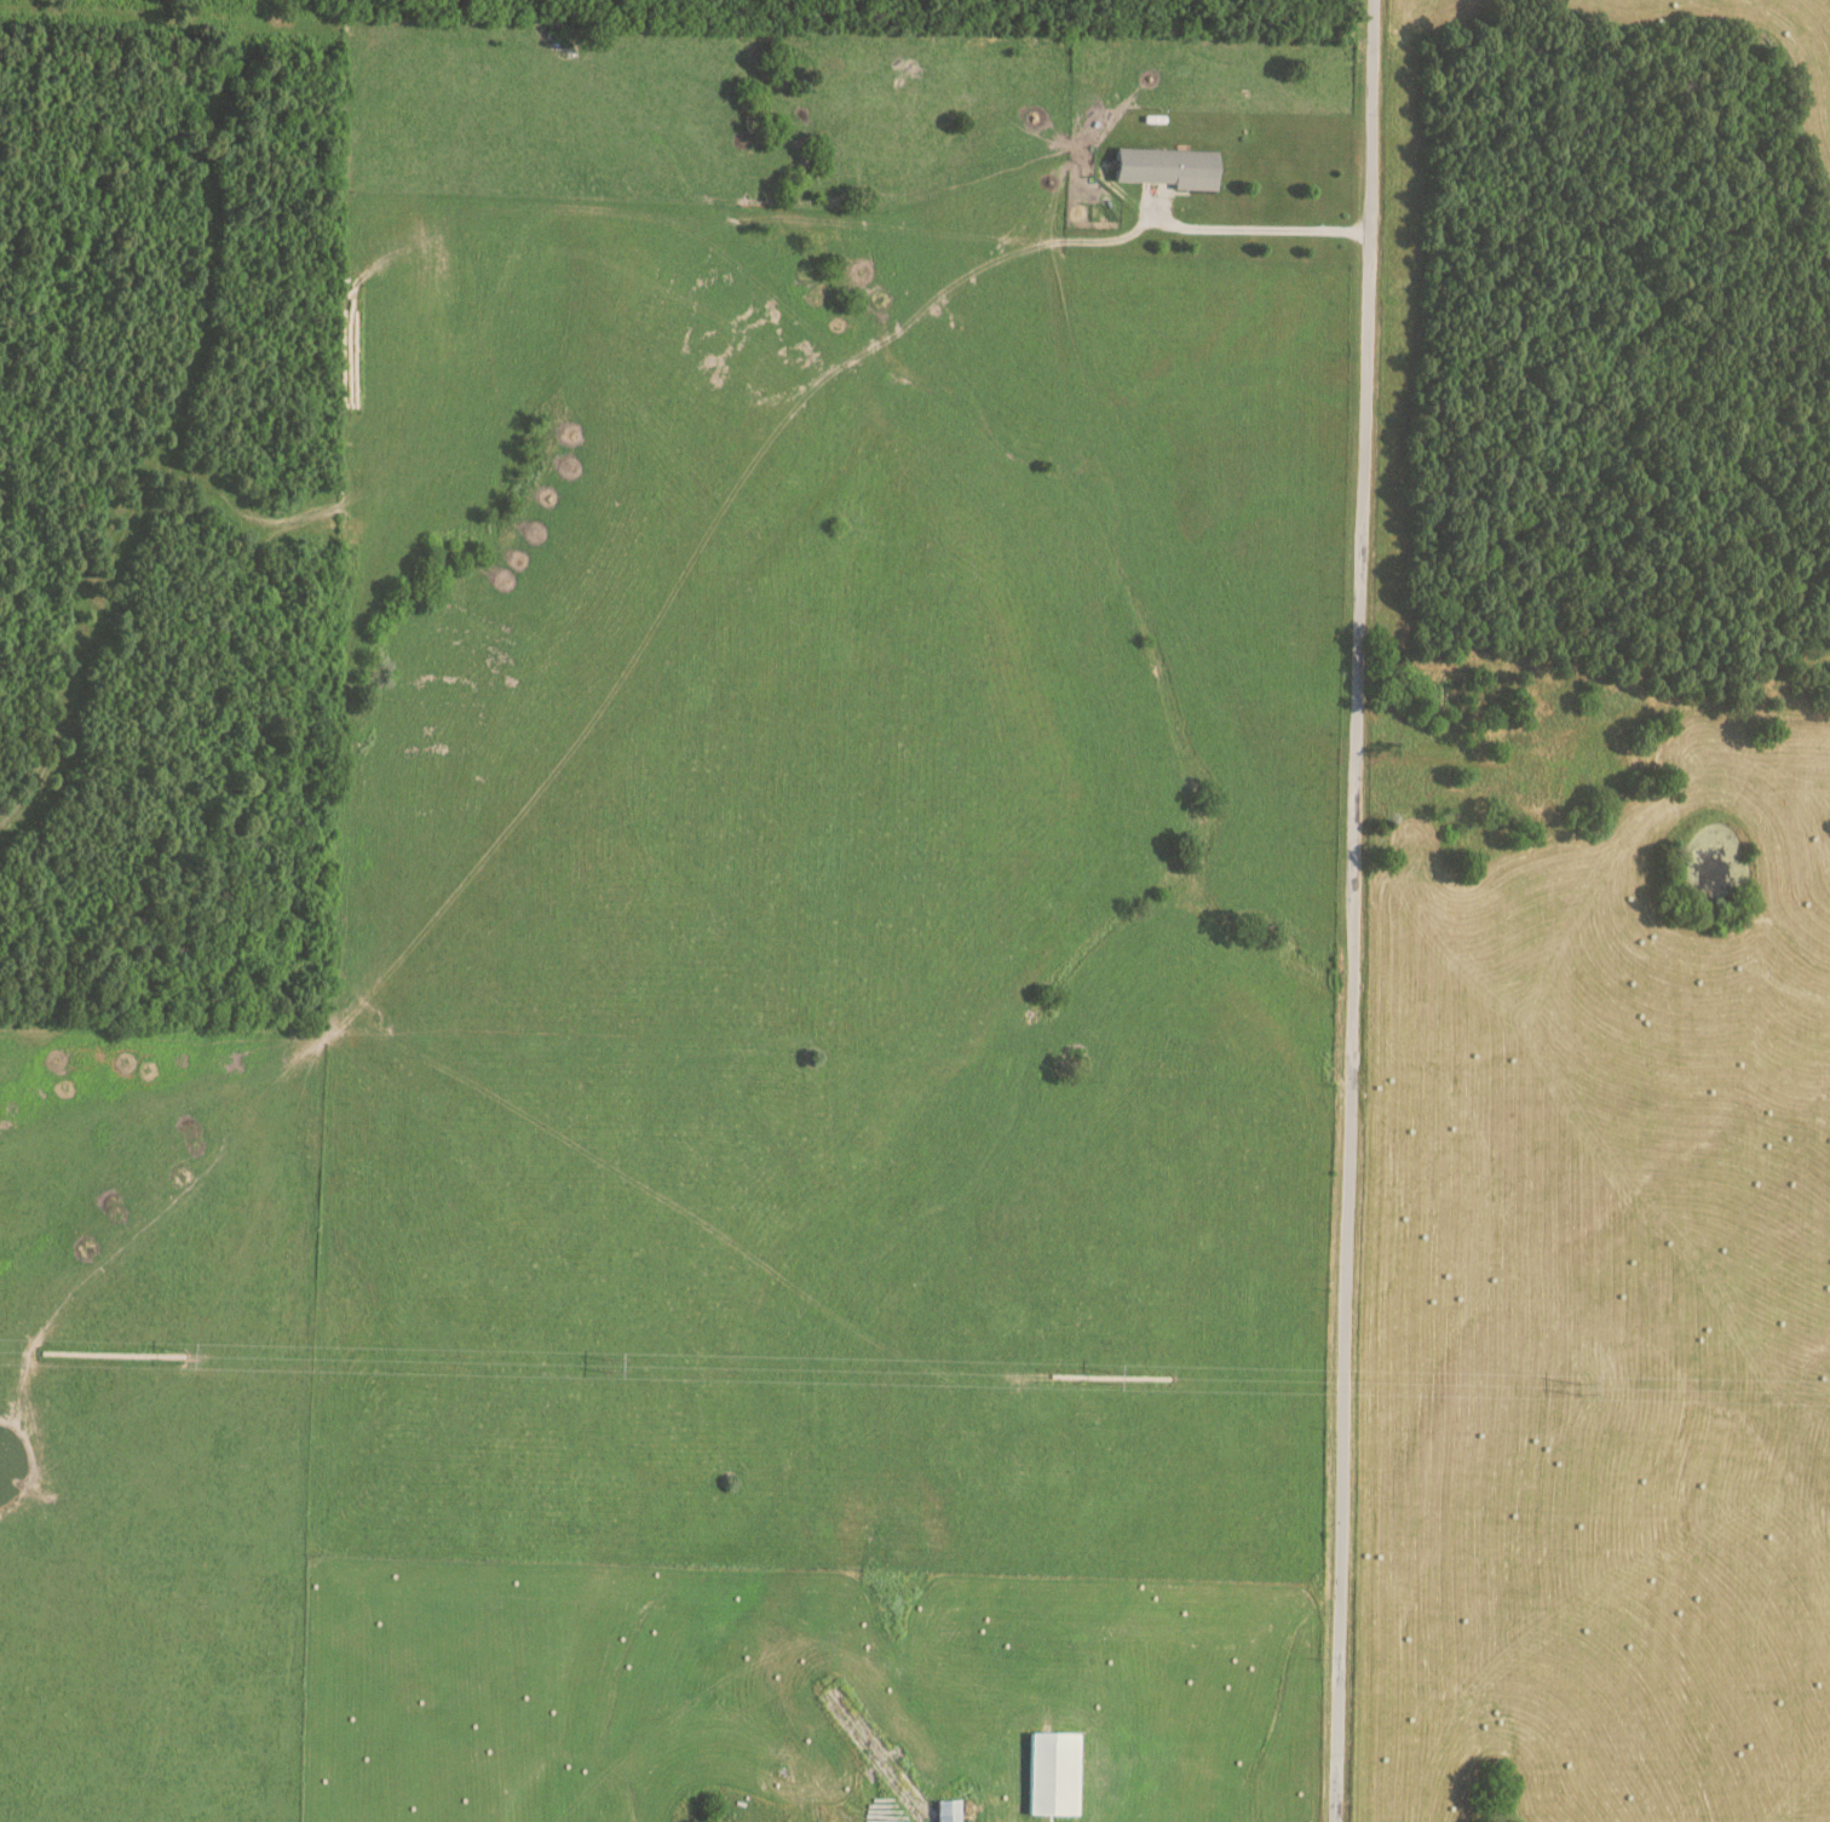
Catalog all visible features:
building: (1169, 168)
road: (1256, 229)
road: (1483, 761)
road: (1350, 910)
power tower: (186, 1356)
power tower: (609, 1364)
power tower: (1112, 1380)
building: (1057, 1774)
building: (950, 1812)

